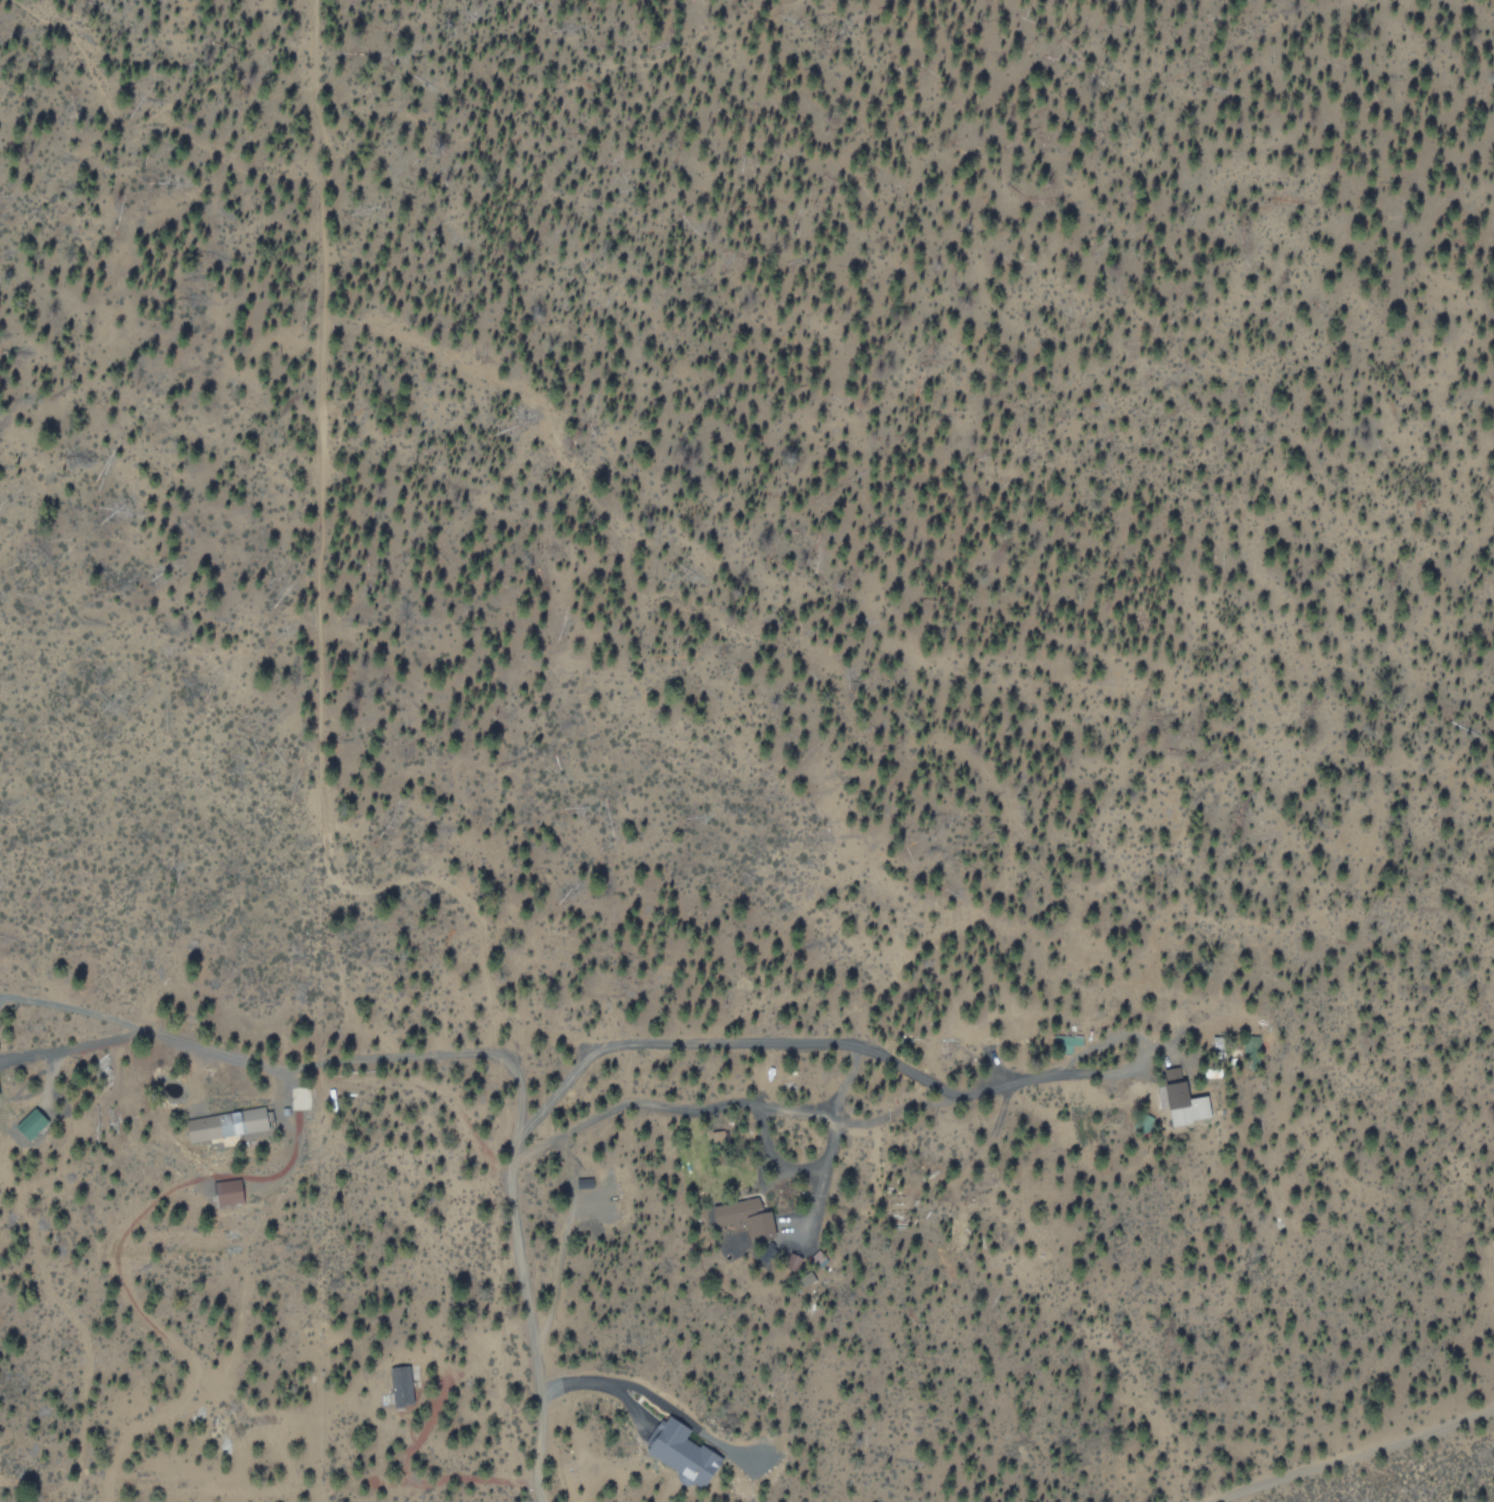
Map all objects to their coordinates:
building: (1064, 1042)
building: (1184, 1099)
building: (31, 1123)
building: (227, 1124)
building: (228, 1191)
building: (736, 1211)
building: (760, 1227)
building: (400, 1385)
building: (683, 1453)
road: (1359, 1454)

